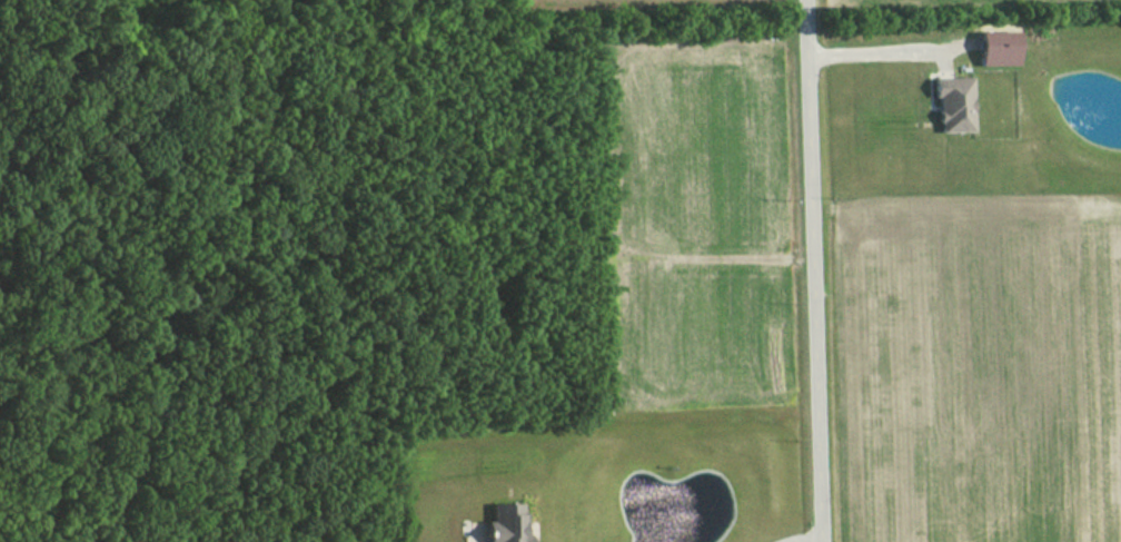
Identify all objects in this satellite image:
crop: (971, 8)
crop: (632, 10)
road: (870, 52)
crop: (683, 225)
road: (813, 270)
crop: (989, 372)
road: (802, 538)

